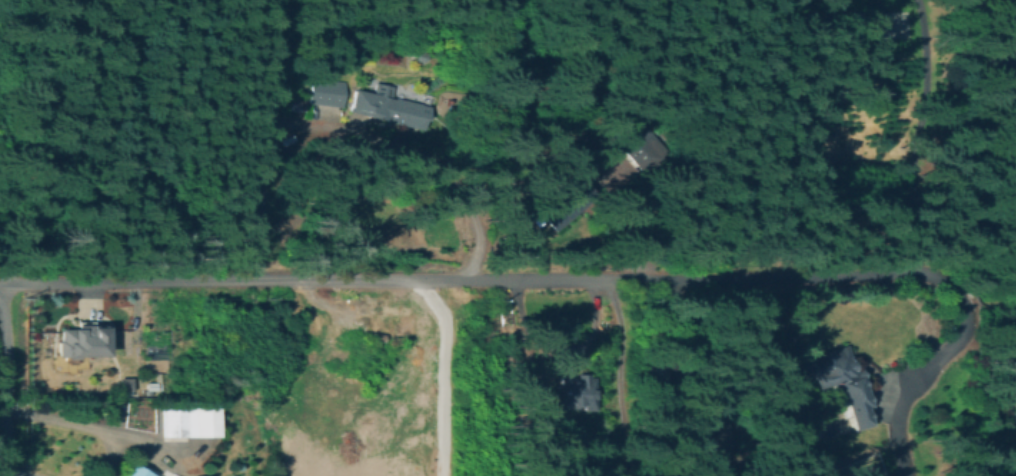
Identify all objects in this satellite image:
building: (1004, 71)
building: (326, 92)
building: (294, 104)
building: (386, 107)
road: (921, 136)
road: (253, 141)
building: (637, 145)
road: (411, 154)
building: (564, 201)
road: (471, 281)
road: (980, 290)
building: (377, 304)
building: (348, 324)
building: (378, 338)
building: (83, 340)
road: (684, 345)
road: (926, 371)
road: (443, 374)
road: (619, 377)
road: (5, 380)
building: (839, 383)
building: (575, 391)
building: (146, 393)
building: (188, 421)
road: (80, 423)
building: (704, 440)
building: (869, 471)
building: (133, 472)
road: (14, 473)

